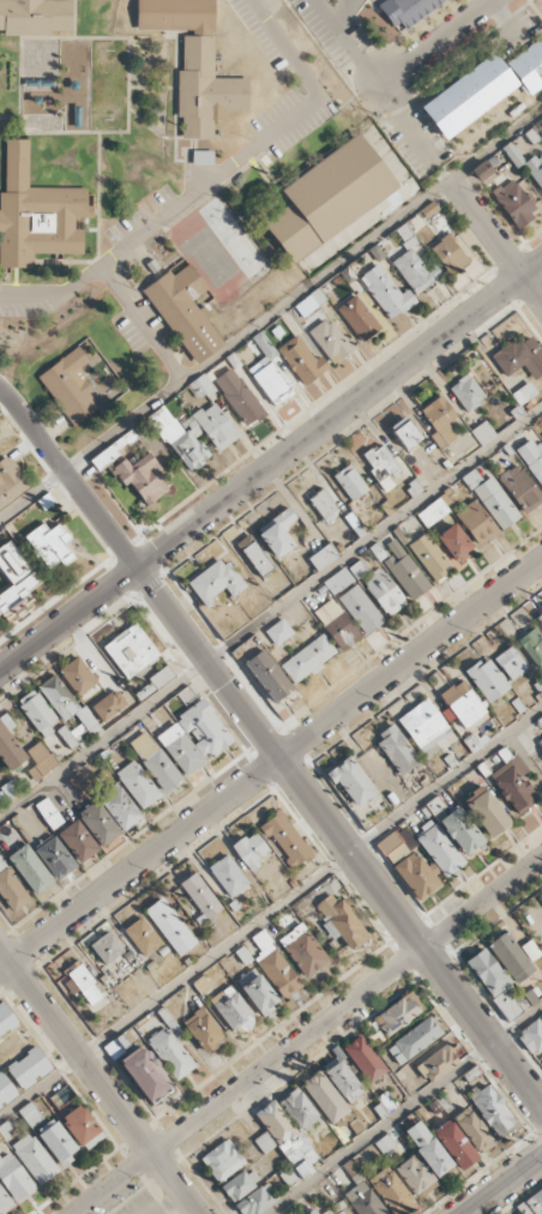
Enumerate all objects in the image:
road: (345, 11)
building: (408, 11)
building: (175, 16)
building: (35, 17)
road: (354, 41)
road: (439, 41)
building: (529, 67)
building: (205, 90)
building: (469, 96)
building: (513, 155)
building: (203, 157)
building: (536, 169)
building: (482, 170)
road: (215, 175)
building: (329, 197)
building: (513, 203)
building: (37, 214)
road: (496, 240)
building: (448, 254)
building: (415, 271)
building: (385, 292)
building: (309, 302)
building: (185, 312)
road: (271, 314)
building: (357, 318)
road: (140, 323)
building: (330, 341)
building: (520, 356)
building: (301, 360)
building: (266, 369)
building: (203, 385)
building: (70, 386)
building: (466, 392)
building: (523, 393)
building: (239, 397)
building: (439, 420)
building: (212, 426)
building: (404, 432)
building: (482, 433)
building: (177, 438)
building: (104, 457)
building: (532, 457)
building: (380, 465)
road: (270, 468)
building: (141, 477)
building: (471, 479)
building: (11, 481)
building: (350, 482)
building: (520, 488)
building: (495, 503)
building: (324, 505)
building: (432, 512)
building: (476, 523)
building: (276, 533)
building: (454, 543)
building: (49, 545)
building: (254, 555)
building: (323, 557)
building: (429, 557)
building: (404, 570)
building: (345, 576)
building: (16, 577)
building: (216, 581)
building: (384, 593)
building: (361, 608)
road: (271, 613)
building: (540, 618)
building: (336, 625)
building: (278, 632)
building: (531, 645)
building: (131, 650)
building: (308, 659)
building: (508, 662)
building: (77, 675)
building: (269, 675)
building: (162, 677)
building: (486, 679)
building: (144, 691)
building: (186, 695)
building: (67, 704)
building: (462, 704)
building: (109, 705)
building: (37, 713)
building: (422, 725)
building: (540, 741)
road: (271, 746)
building: (180, 749)
building: (10, 750)
building: (396, 751)
building: (40, 761)
building: (153, 761)
road: (270, 765)
building: (351, 781)
building: (137, 785)
building: (513, 785)
building: (435, 805)
building: (119, 807)
building: (486, 811)
building: (48, 813)
building: (98, 823)
building: (460, 831)
building: (285, 840)
building: (78, 841)
building: (397, 845)
building: (439, 848)
building: (249, 849)
building: (55, 858)
building: (30, 869)
building: (416, 875)
building: (227, 876)
building: (11, 889)
building: (198, 895)
road: (270, 913)
building: (341, 921)
building: (169, 926)
building: (140, 936)
building: (106, 948)
building: (303, 950)
building: (511, 957)
building: (275, 967)
building: (487, 972)
building: (82, 982)
building: (200, 985)
building: (257, 992)
building: (511, 1003)
building: (231, 1010)
building: (398, 1014)
building: (6, 1020)
building: (204, 1030)
road: (307, 1036)
building: (532, 1039)
building: (414, 1040)
building: (116, 1046)
building: (170, 1052)
building: (363, 1059)
building: (438, 1064)
building: (29, 1068)
building: (144, 1075)
building: (342, 1080)
road: (100, 1081)
building: (6, 1090)
building: (325, 1096)
building: (299, 1110)
road: (405, 1110)
building: (493, 1111)
building: (30, 1113)
building: (82, 1128)
building: (472, 1130)
building: (56, 1141)
building: (264, 1142)
building: (287, 1142)
building: (384, 1143)
building: (454, 1144)
building: (427, 1148)
building: (34, 1158)
building: (223, 1160)
building: (353, 1171)
building: (342, 1176)
building: (416, 1176)
building: (14, 1177)
building: (240, 1184)
road: (504, 1185)
building: (390, 1190)
building: (363, 1200)
building: (255, 1201)
building: (4, 1202)
building: (531, 1204)
building: (338, 1209)
building: (312, 1212)

